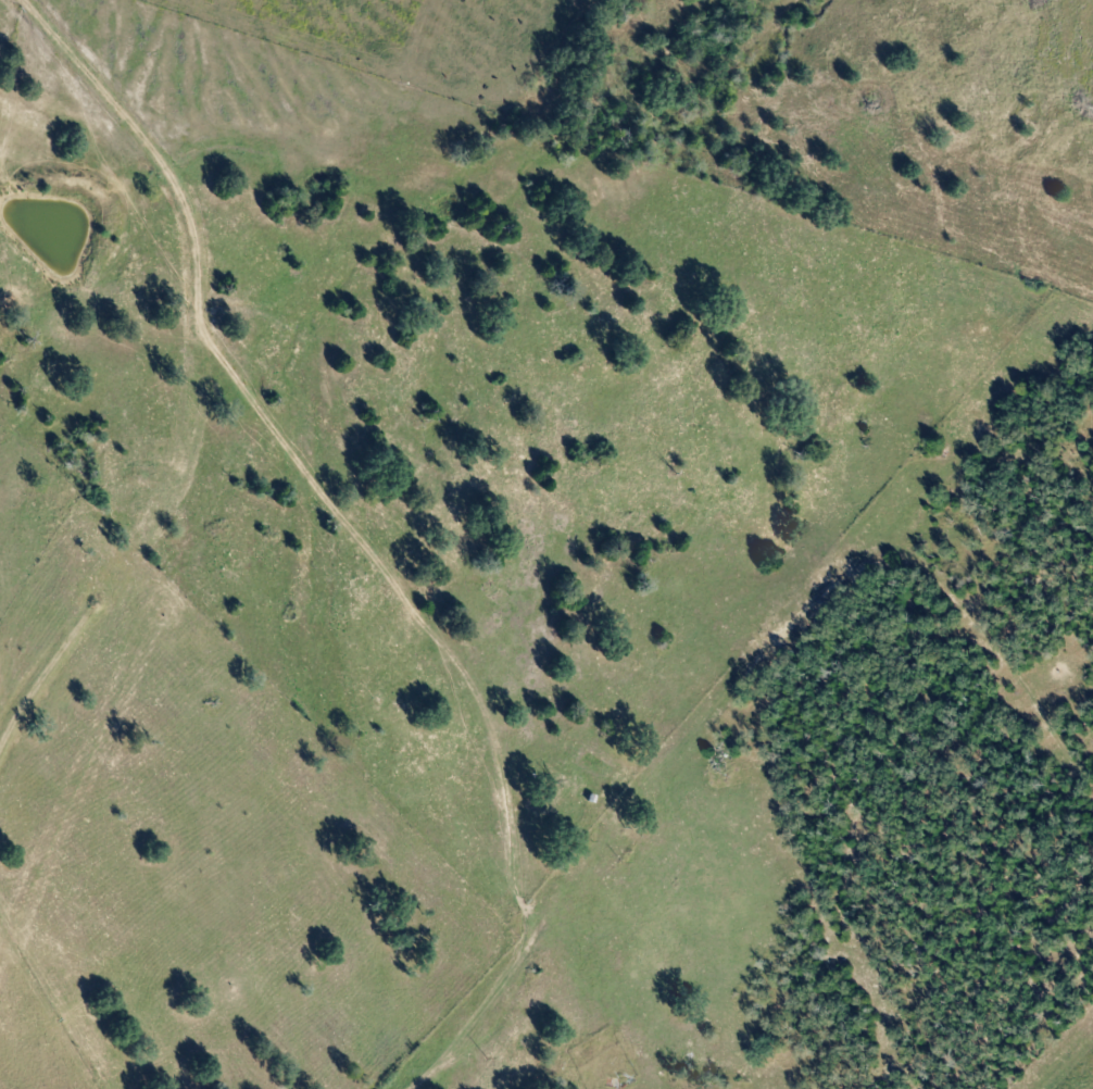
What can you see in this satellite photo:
road: (377, 561)

